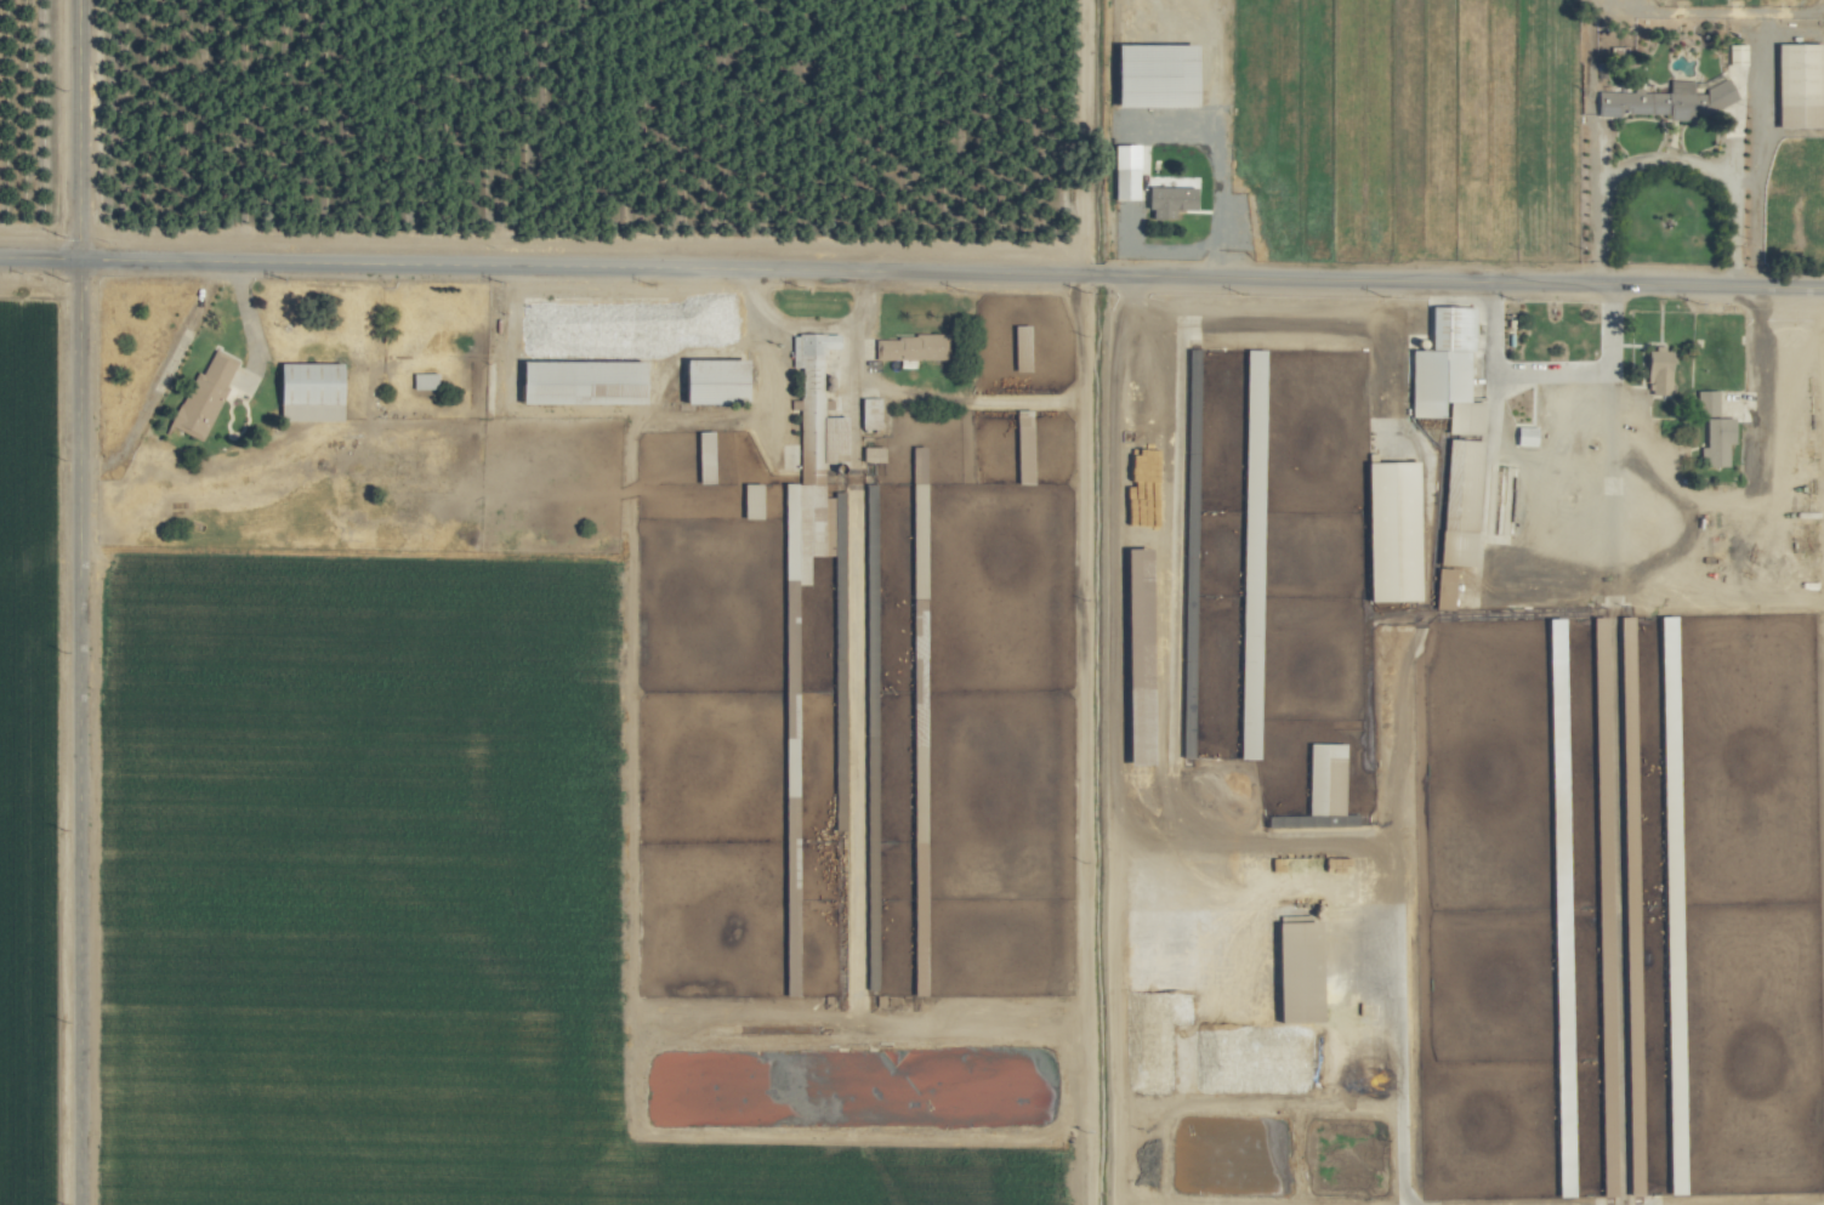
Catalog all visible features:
building: (1735, 52)
building: (1161, 76)
building: (1795, 86)
building: (1666, 100)
road: (1674, 159)
building: (1120, 172)
road: (911, 273)
building: (905, 347)
building: (1442, 369)
building: (1654, 370)
road: (1555, 373)
building: (1250, 377)
building: (427, 380)
building: (708, 380)
building: (316, 382)
building: (206, 396)
building: (868, 413)
building: (1711, 428)
building: (1522, 436)
building: (701, 456)
building: (748, 500)
building: (1387, 530)
road: (81, 602)
crop: (911, 602)
crop: (1137, 688)
building: (1322, 778)
building: (1292, 970)
road: (1396, 1070)

